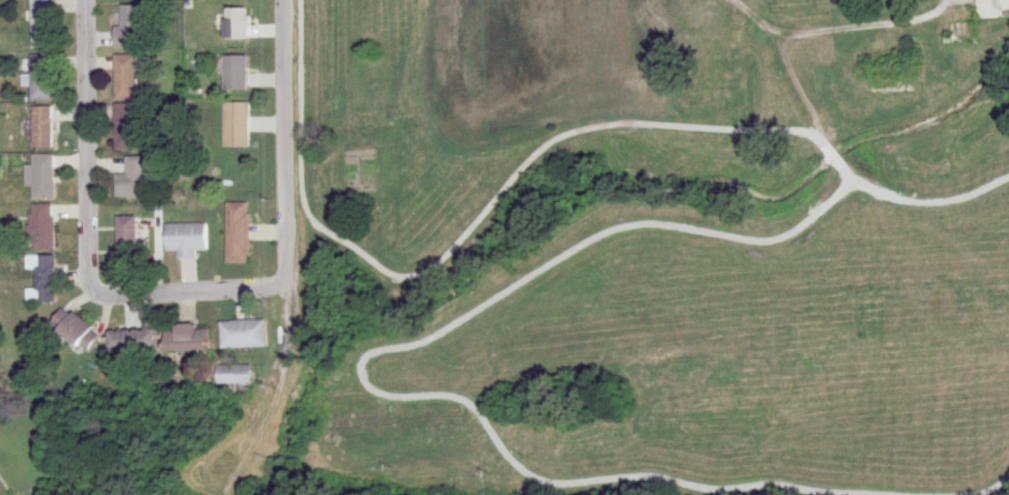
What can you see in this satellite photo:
building: (991, 9)
building: (39, 24)
building: (236, 24)
building: (128, 28)
building: (962, 34)
building: (882, 43)
building: (235, 74)
building: (125, 77)
building: (40, 78)
building: (236, 125)
building: (126, 127)
building: (40, 128)
road: (287, 139)
road: (827, 143)
building: (41, 177)
building: (131, 179)
road: (920, 197)
building: (43, 227)
road: (457, 231)
building: (237, 233)
building: (125, 239)
building: (185, 239)
road: (87, 243)
building: (44, 280)
building: (74, 331)
building: (243, 334)
building: (184, 338)
building: (131, 342)
building: (233, 374)
road: (357, 376)
road: (983, 488)

